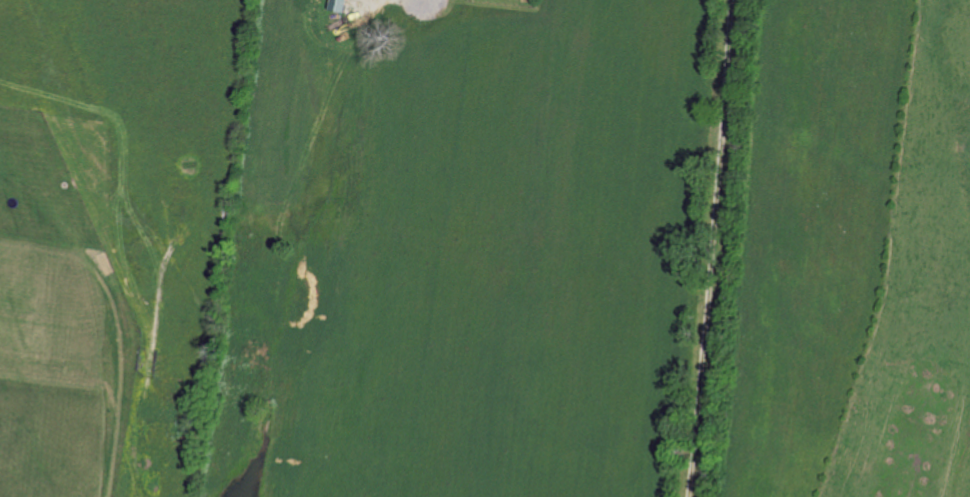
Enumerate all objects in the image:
building: (337, 5)
road: (707, 248)

